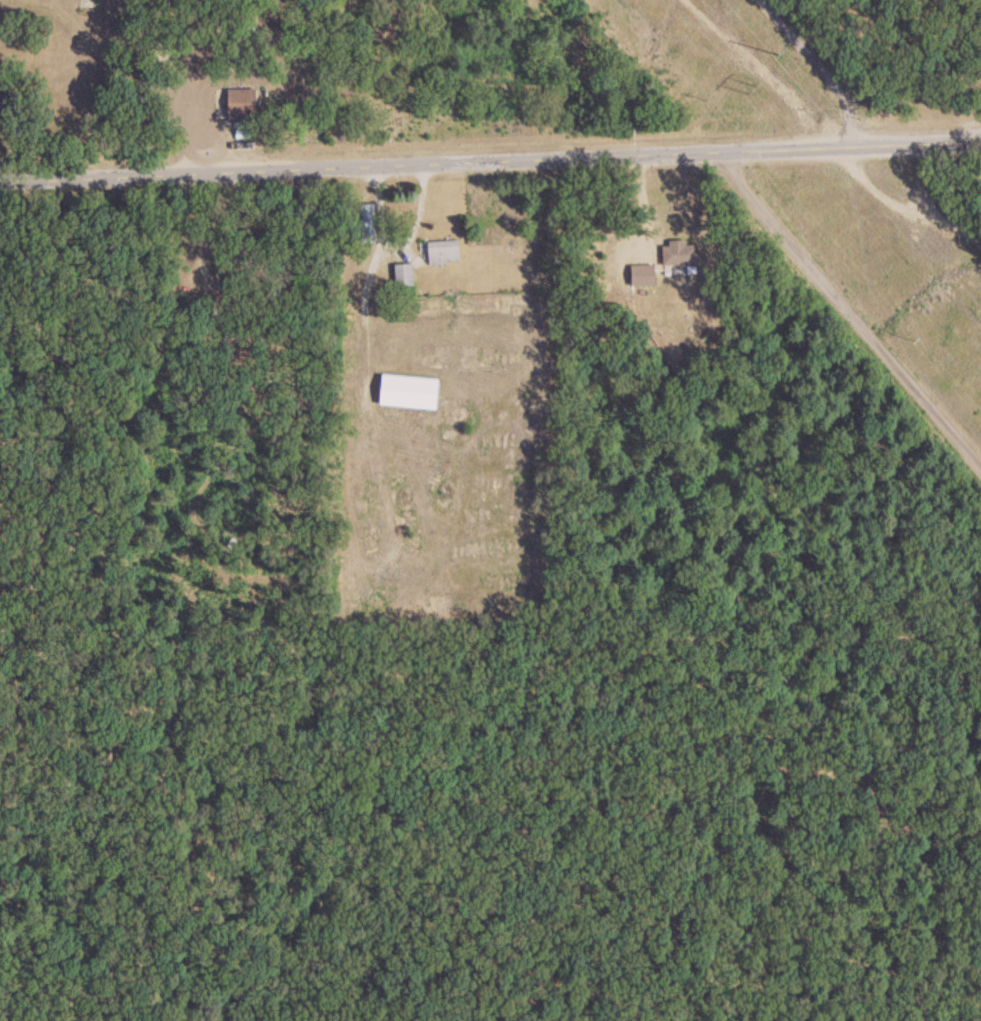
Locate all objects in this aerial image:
power tower: (776, 54)
road: (821, 66)
power tower: (749, 91)
building: (242, 104)
road: (490, 157)
road: (919, 173)
road: (897, 205)
building: (444, 252)
building: (682, 252)
road: (846, 308)
building: (410, 391)

